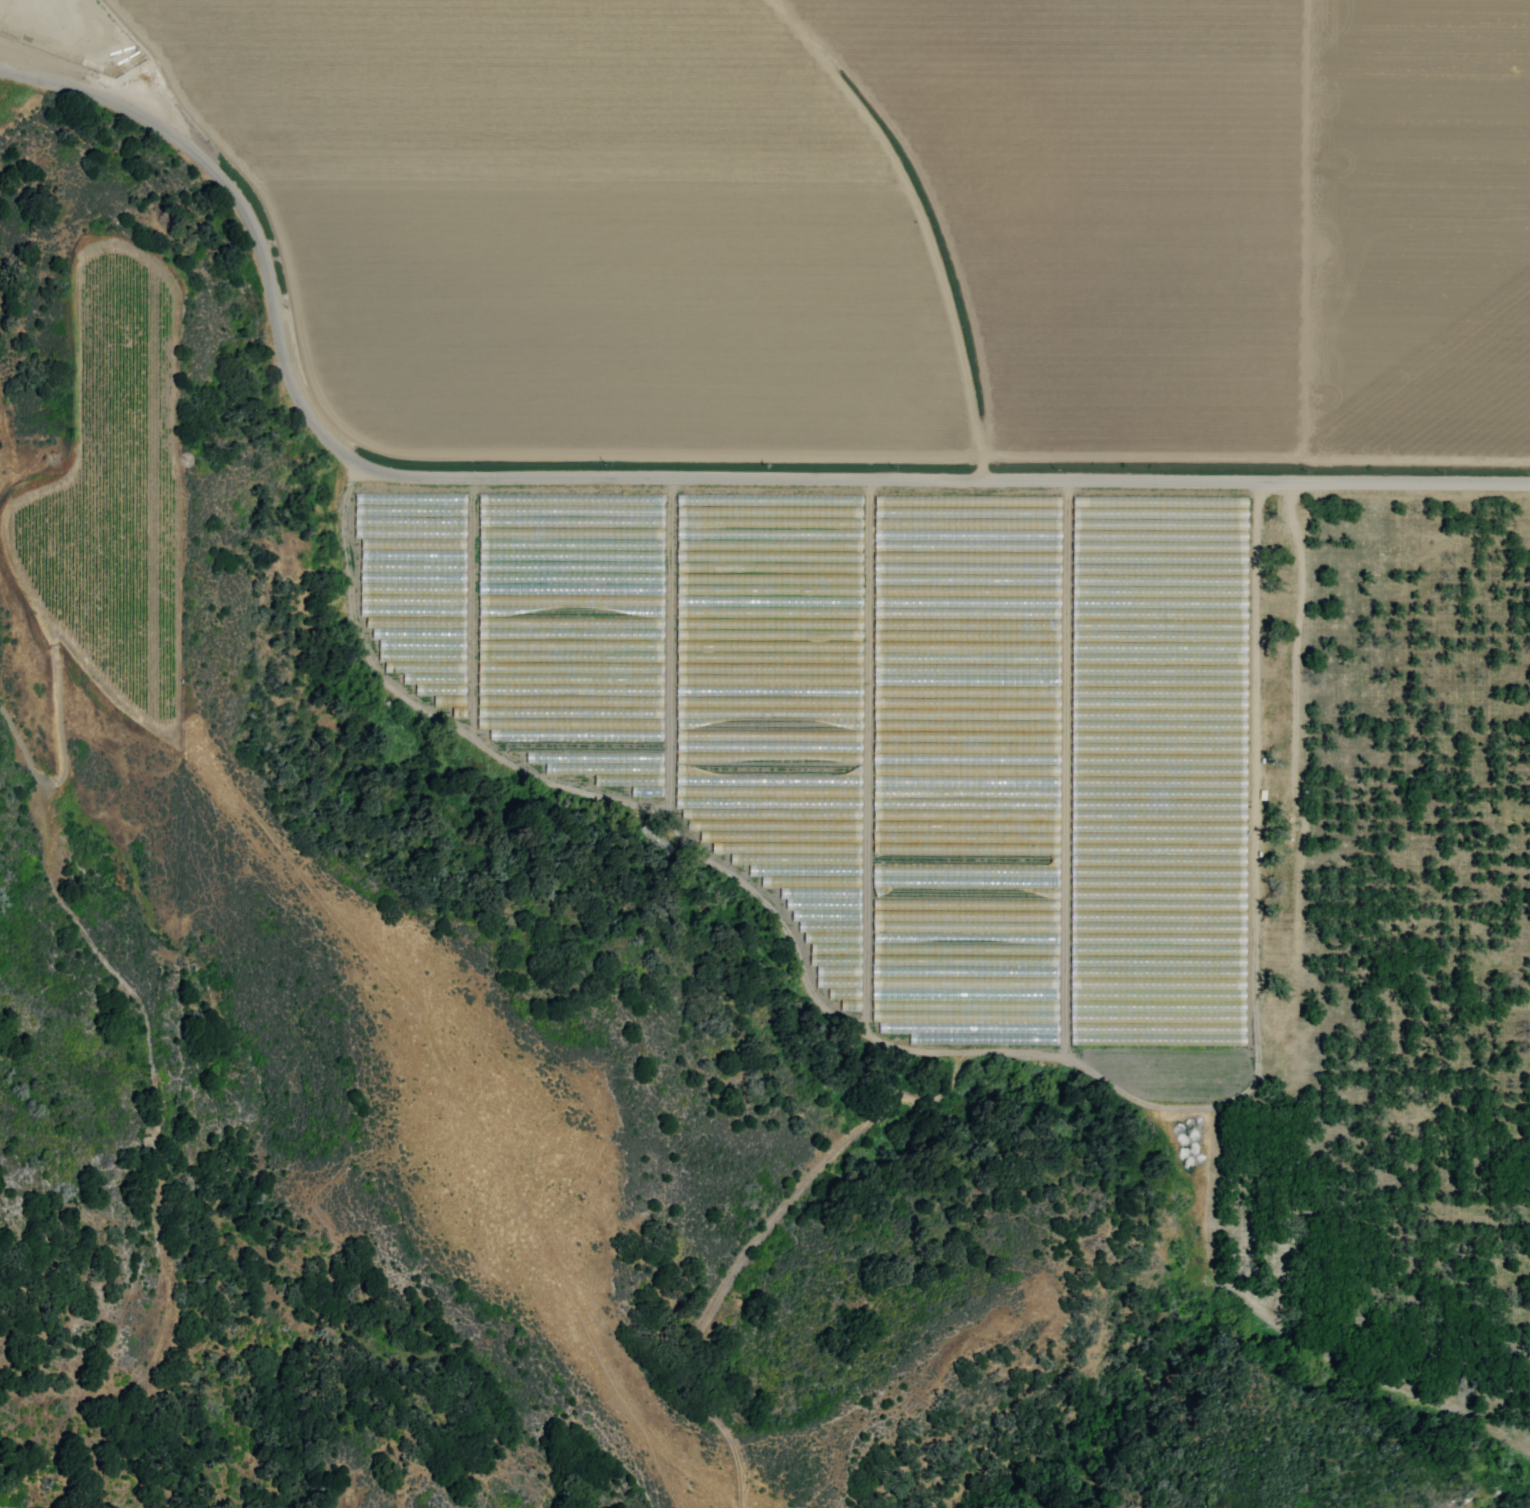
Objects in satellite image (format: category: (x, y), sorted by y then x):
road: (653, 481)
crop: (990, 531)

